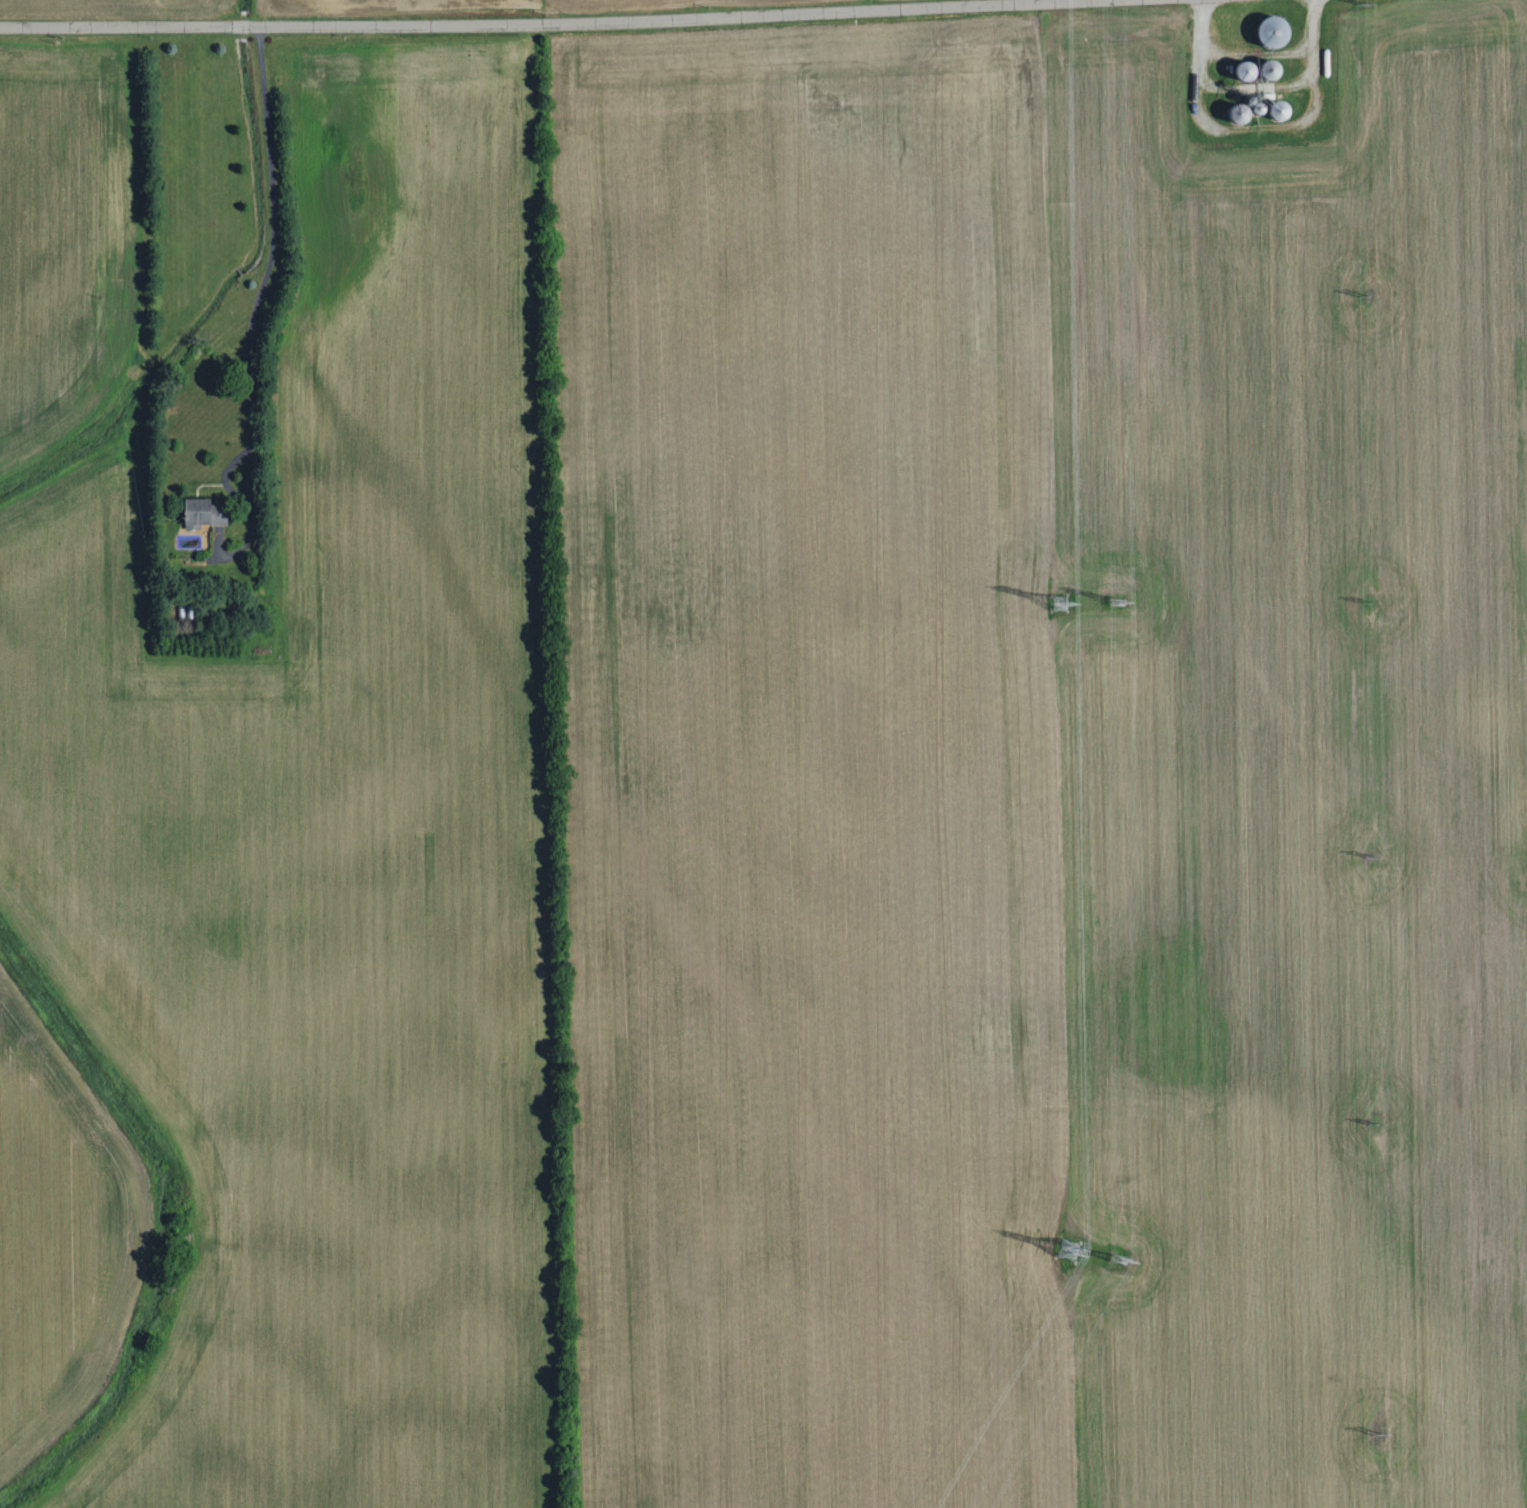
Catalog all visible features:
road: (552, 22)
road: (1257, 132)
road: (260, 291)
power tower: (1060, 604)
power tower: (1068, 1252)

